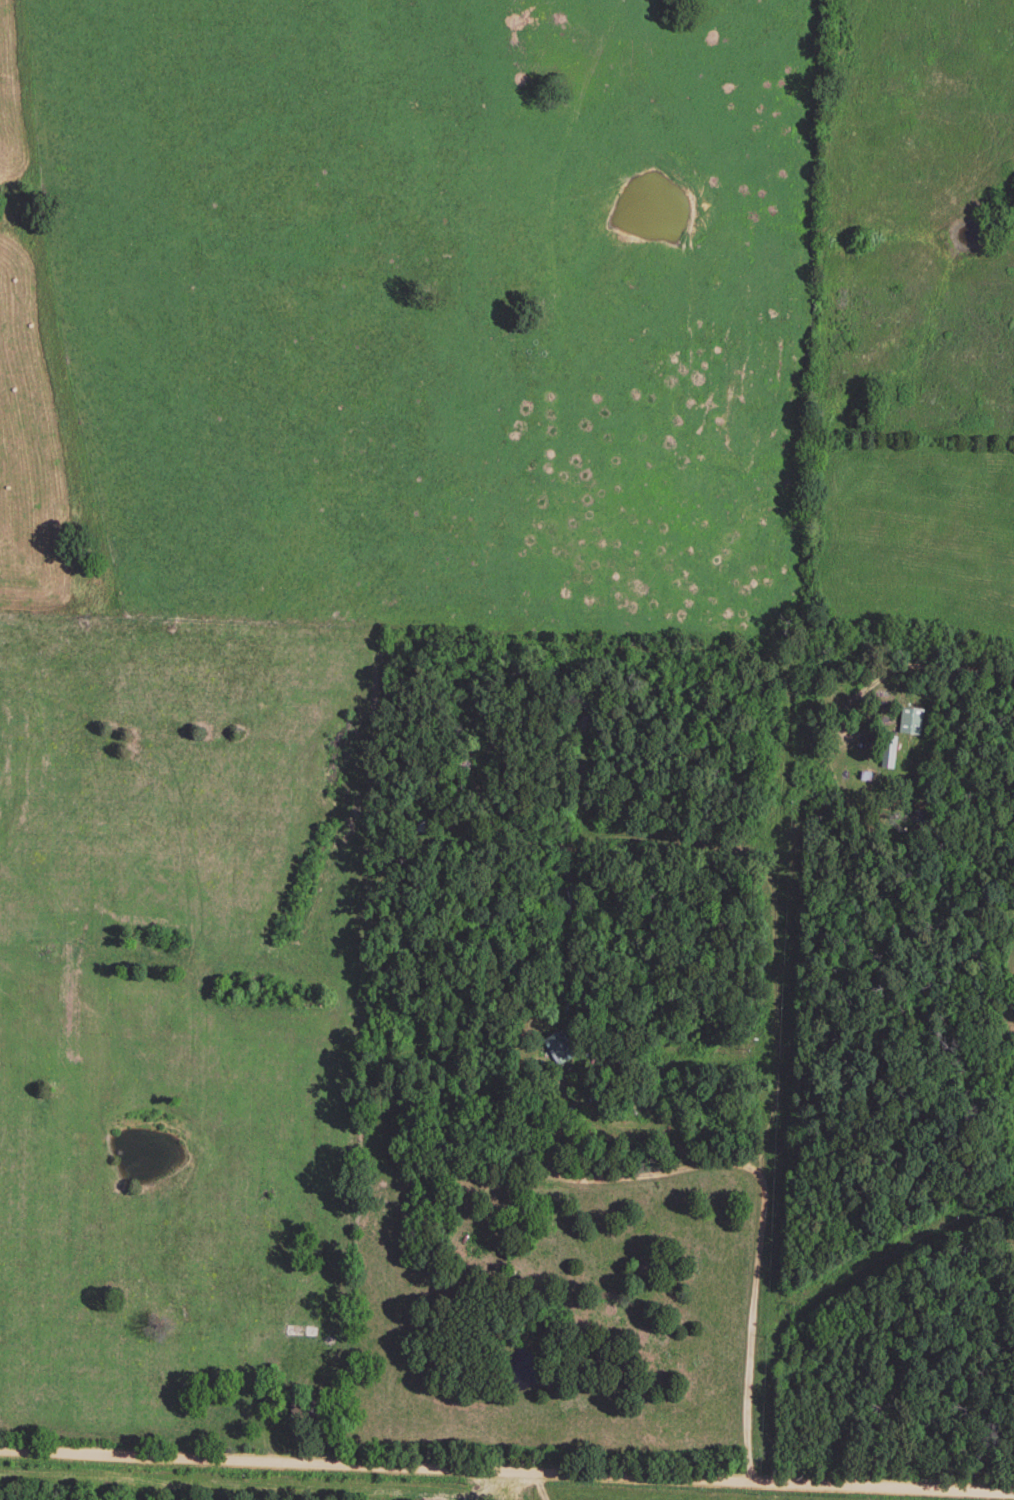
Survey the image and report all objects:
building: (887, 754)
road: (595, 1070)
road: (772, 1082)
road: (557, 1180)
building: (1006, 1250)
road: (506, 1476)

